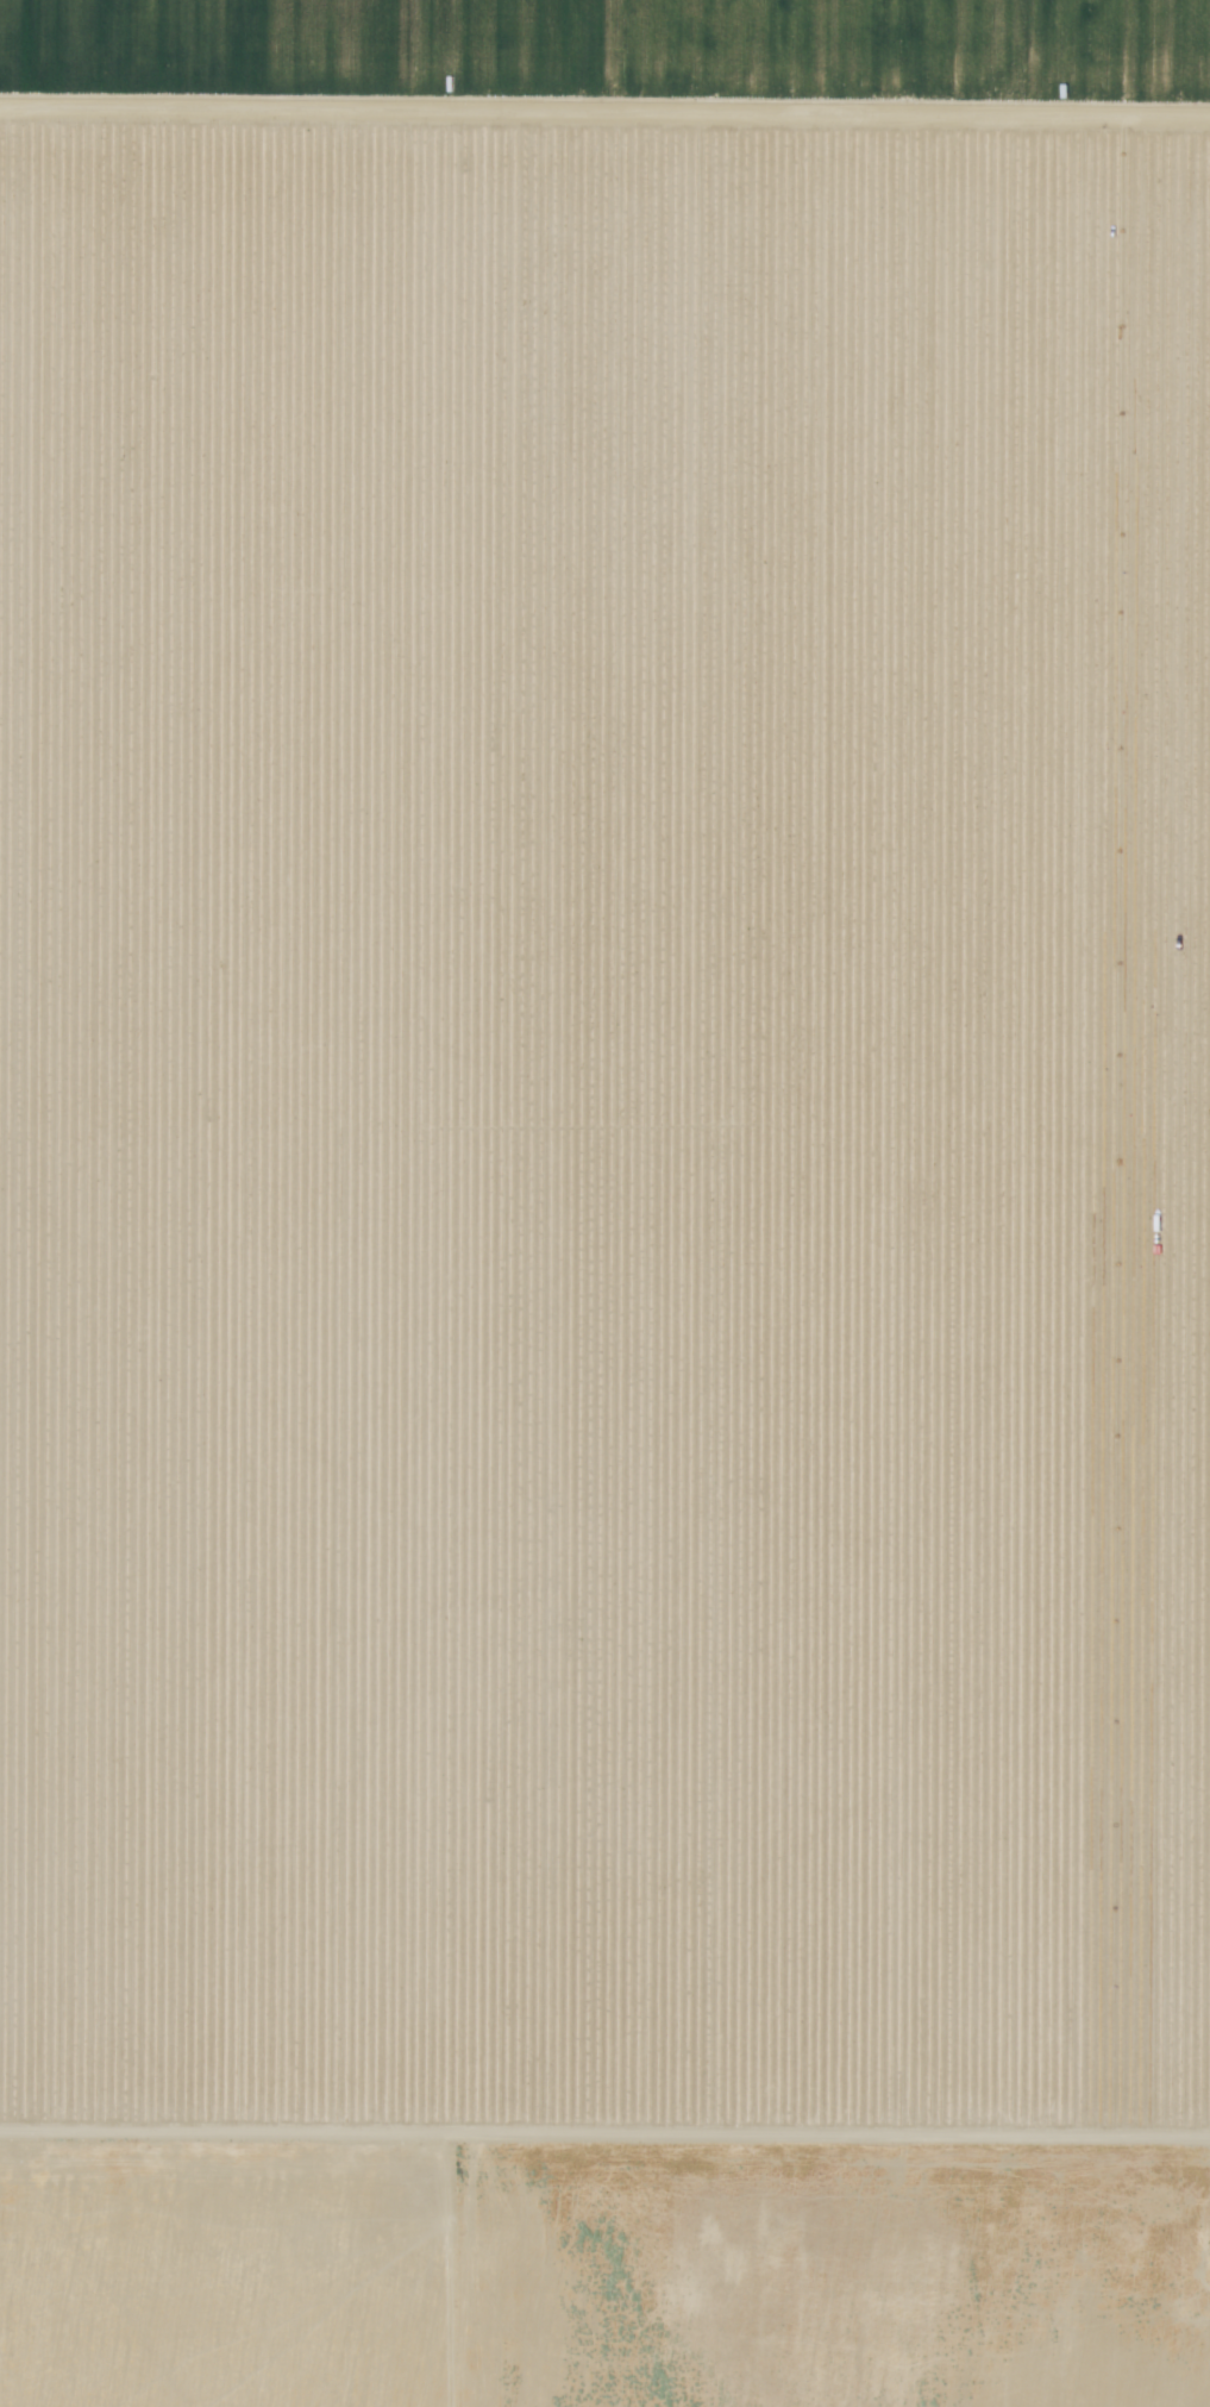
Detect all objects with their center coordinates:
crop: (606, 62)
road: (604, 113)
road: (604, 2127)

